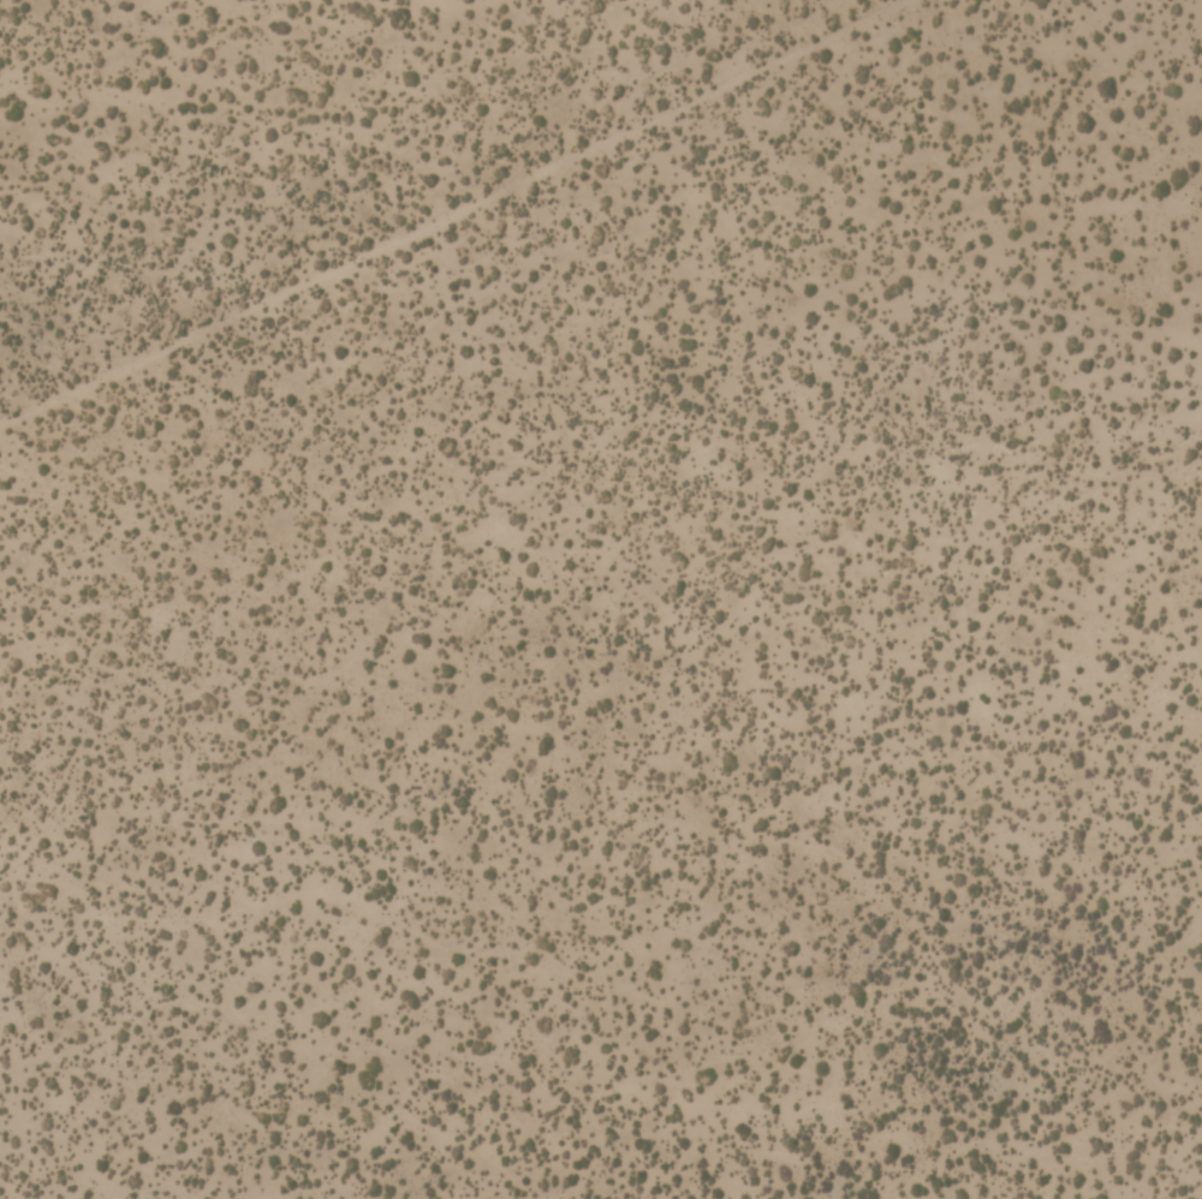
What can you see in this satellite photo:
road: (451, 211)

